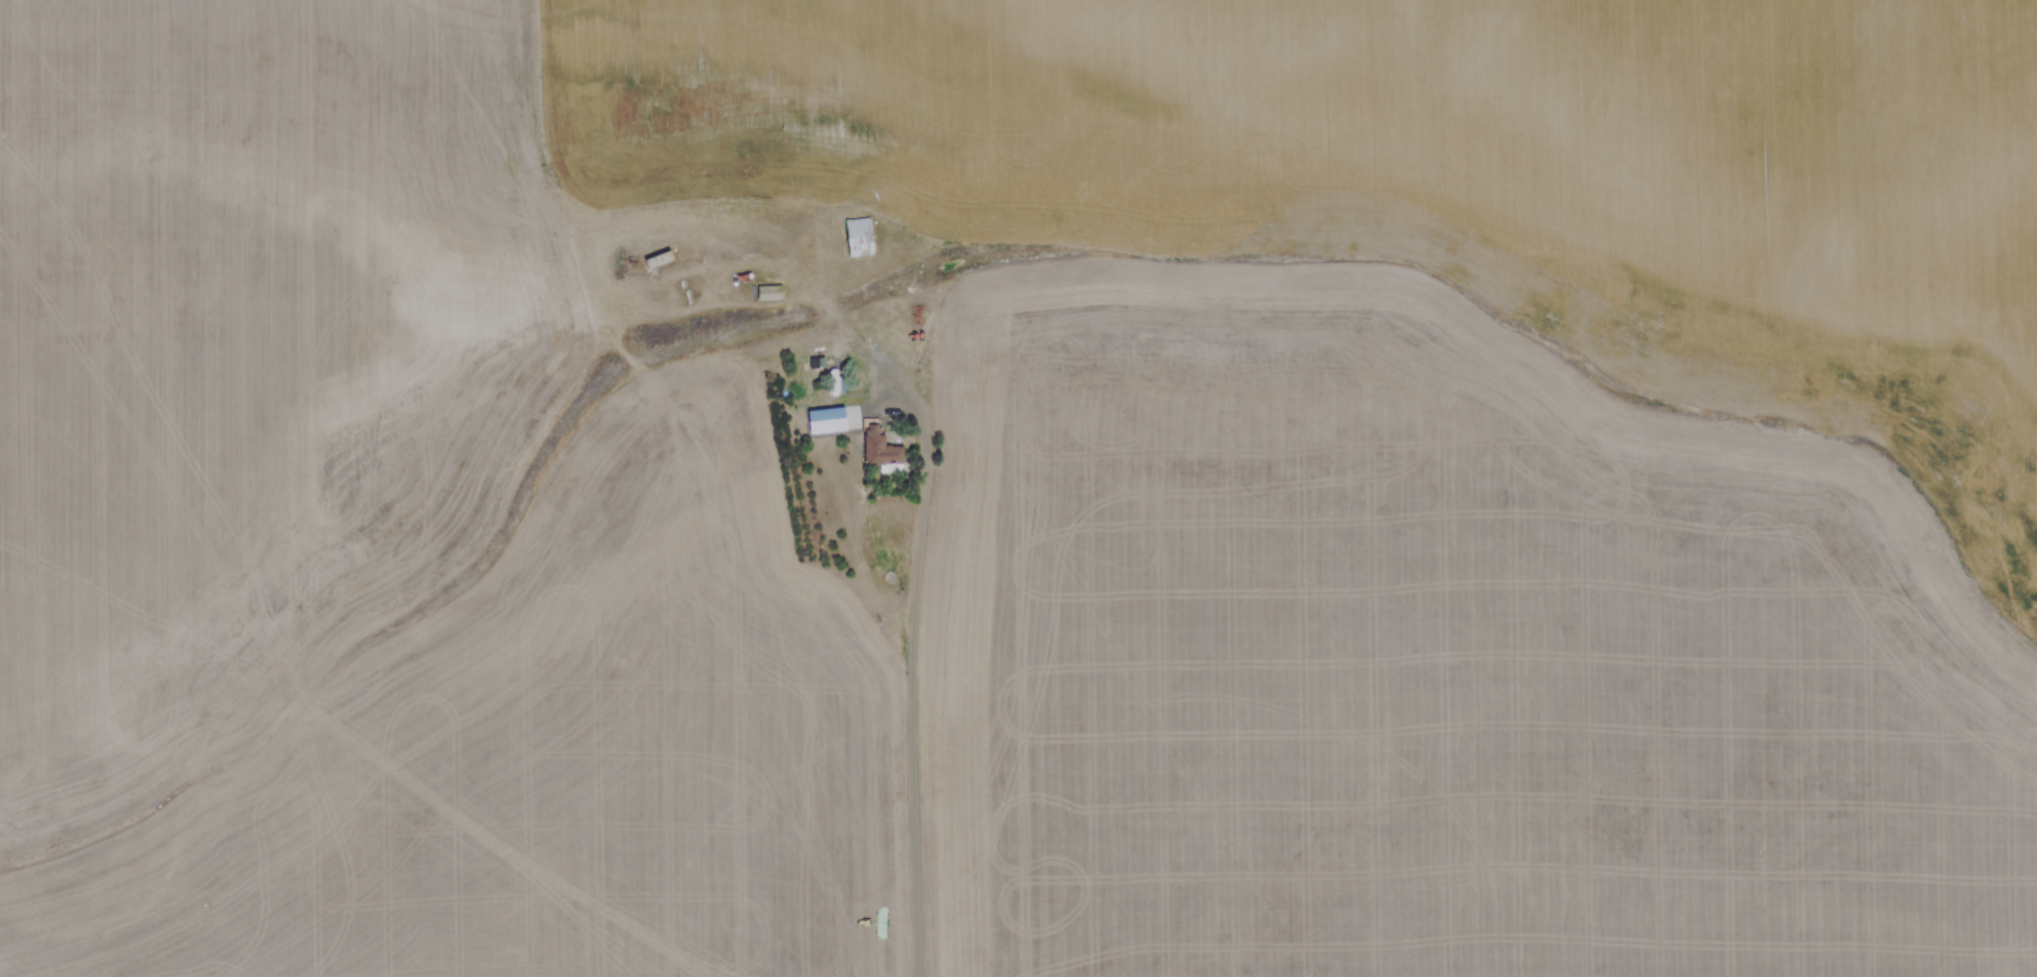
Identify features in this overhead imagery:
building: (861, 235)
building: (829, 419)
building: (881, 447)
road: (908, 687)

